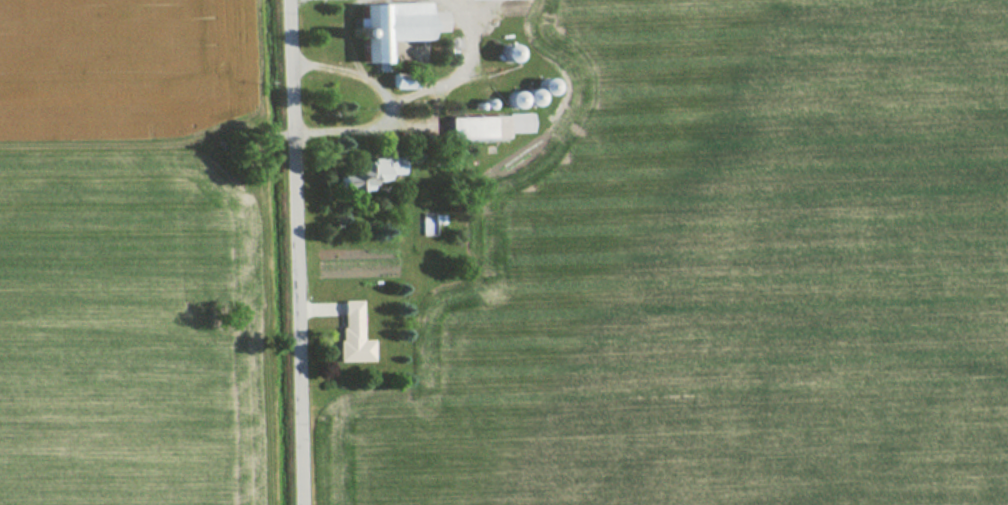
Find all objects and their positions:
building: (394, 28)
building: (486, 127)
building: (384, 166)
crop: (125, 252)
road: (298, 252)
crop: (719, 271)
building: (351, 334)

